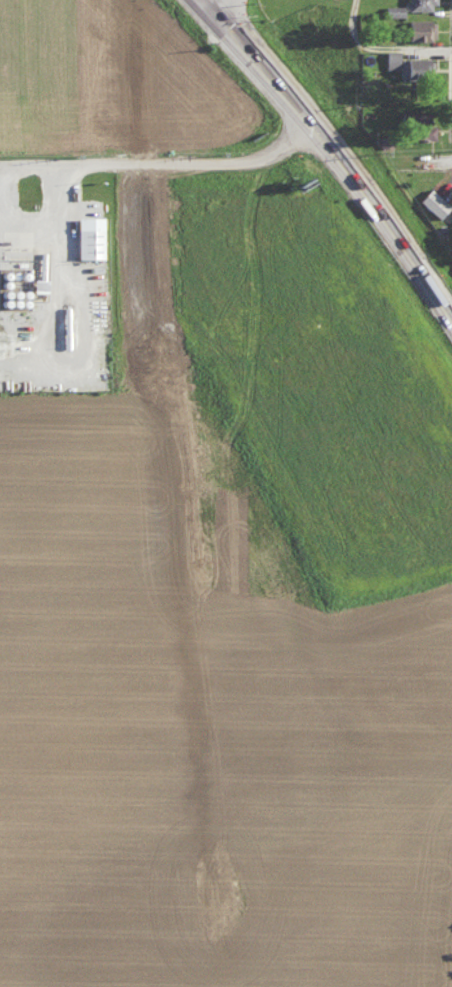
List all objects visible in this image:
building: (419, 5)
building: (393, 9)
road: (366, 17)
building: (417, 28)
road: (404, 50)
building: (390, 58)
road: (259, 59)
building: (417, 67)
building: (416, 124)
road: (161, 162)
building: (432, 202)
road: (381, 214)
building: (94, 237)
road: (58, 263)
building: (43, 285)
road: (450, 314)

